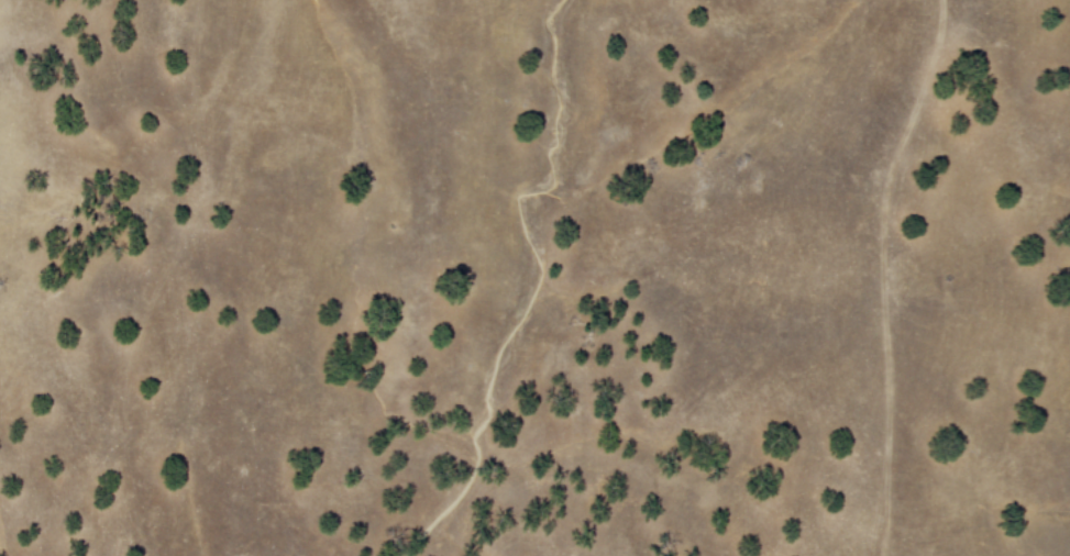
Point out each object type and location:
road: (880, 273)

